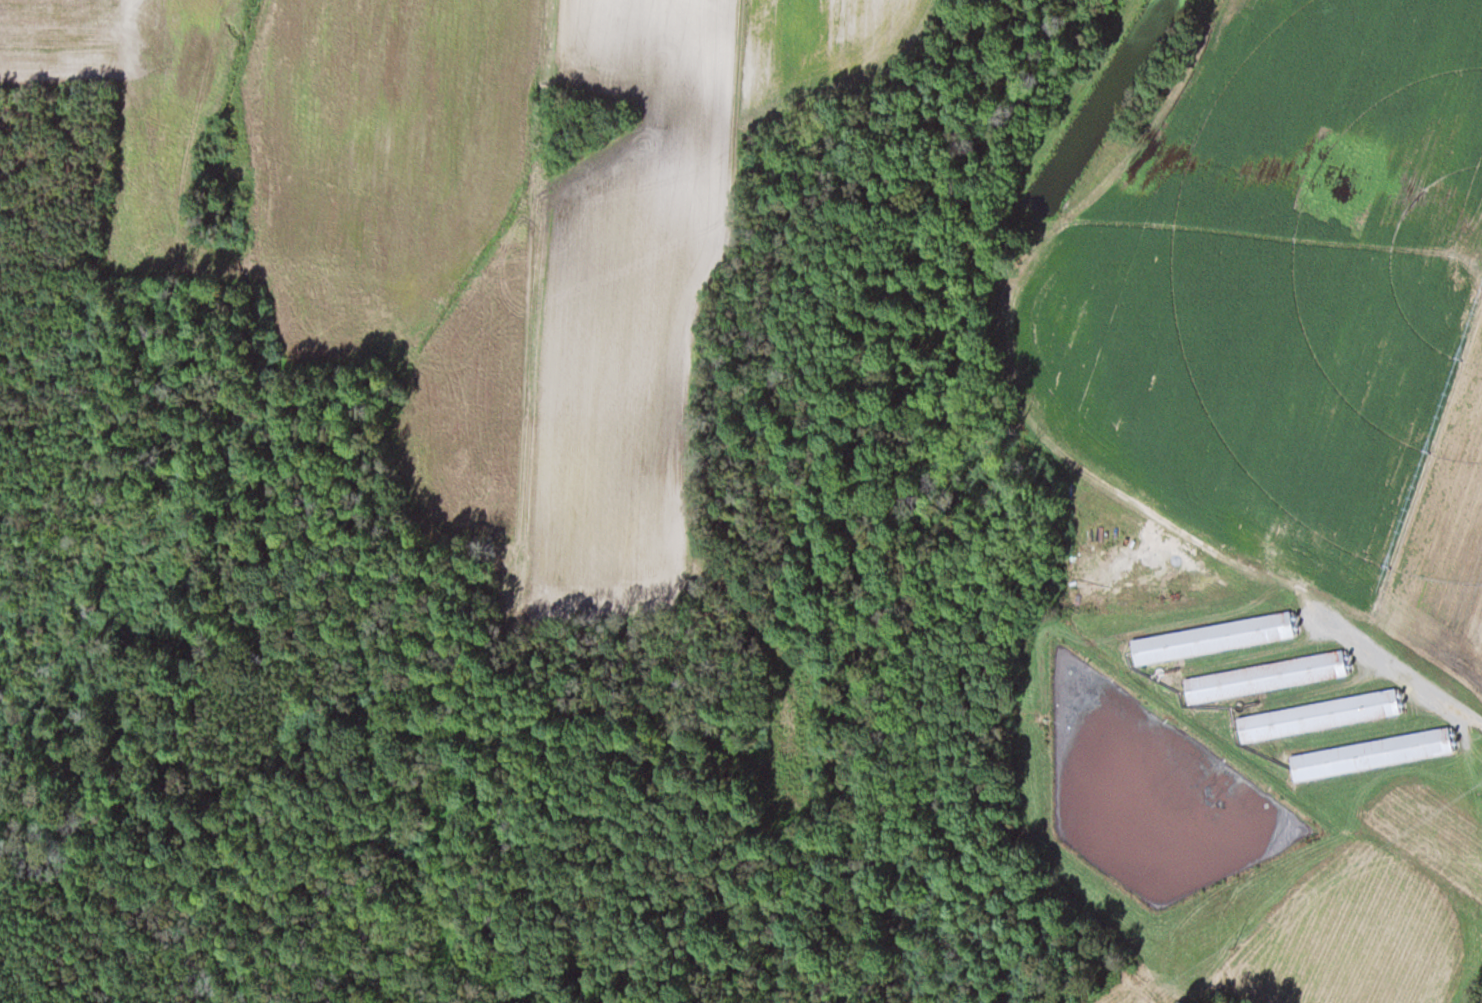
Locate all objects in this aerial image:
building: (1211, 637)
building: (1265, 676)
building: (1317, 715)
building: (1370, 753)

